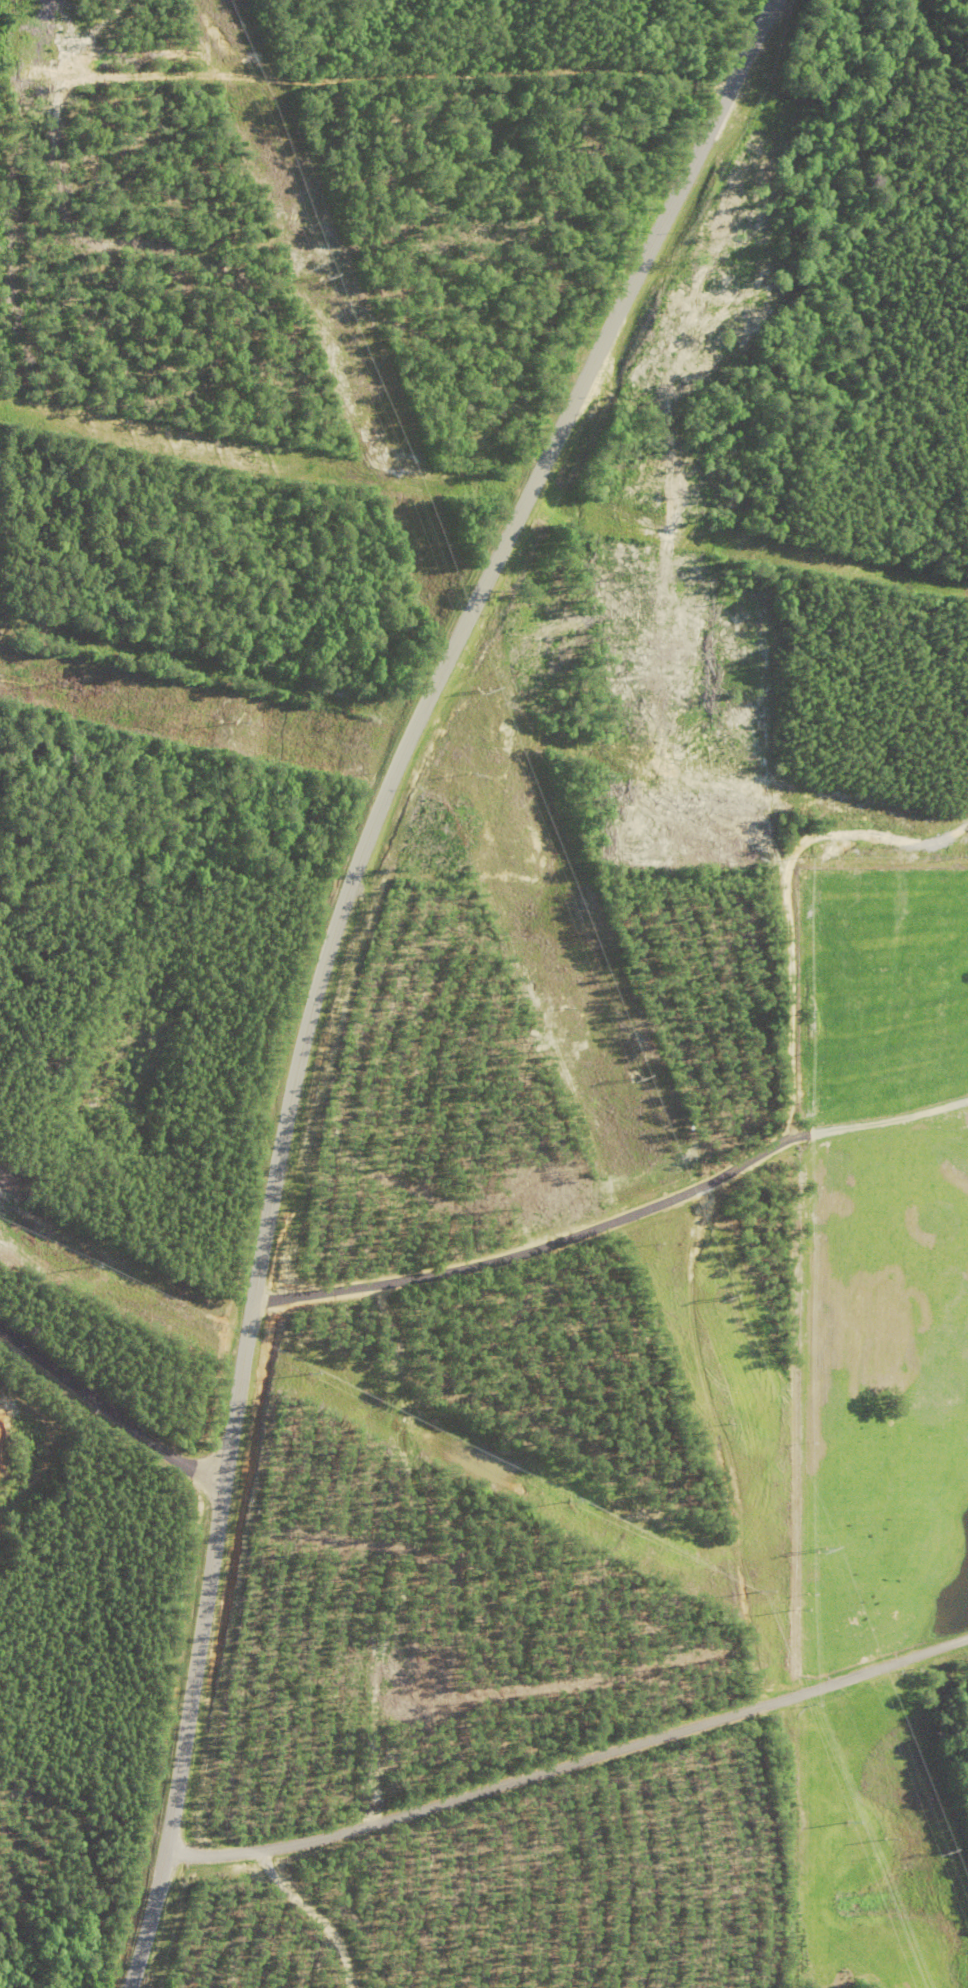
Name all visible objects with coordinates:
road: (788, 906)
road: (327, 952)
road: (615, 1215)
road: (109, 1407)
road: (571, 1765)
road: (313, 1916)

